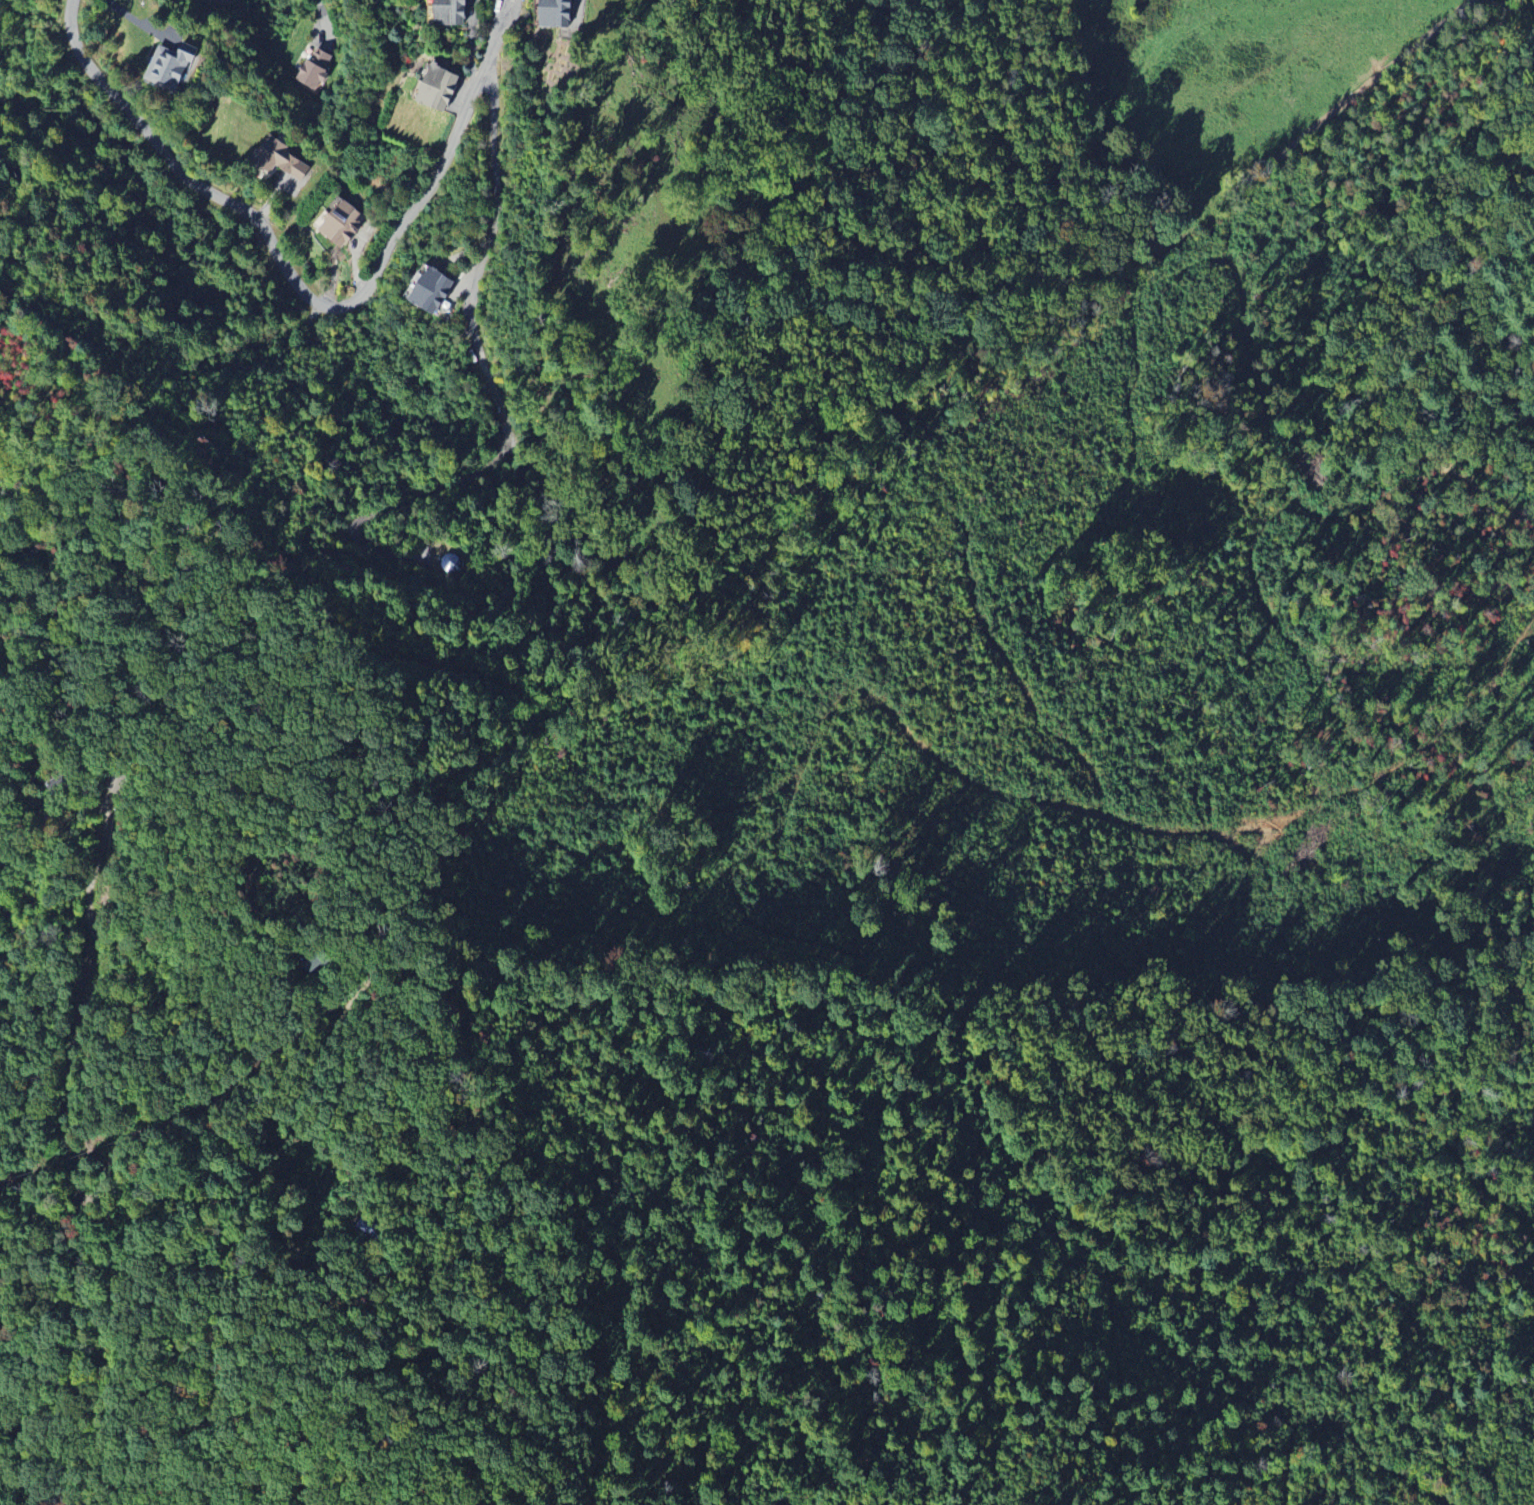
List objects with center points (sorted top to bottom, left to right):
road: (320, 8)
building: (451, 12)
building: (555, 13)
road: (493, 42)
road: (470, 44)
building: (169, 65)
building: (315, 68)
building: (439, 88)
road: (466, 110)
building: (280, 159)
building: (343, 224)
building: (433, 291)
building: (454, 565)
road: (114, 1162)

